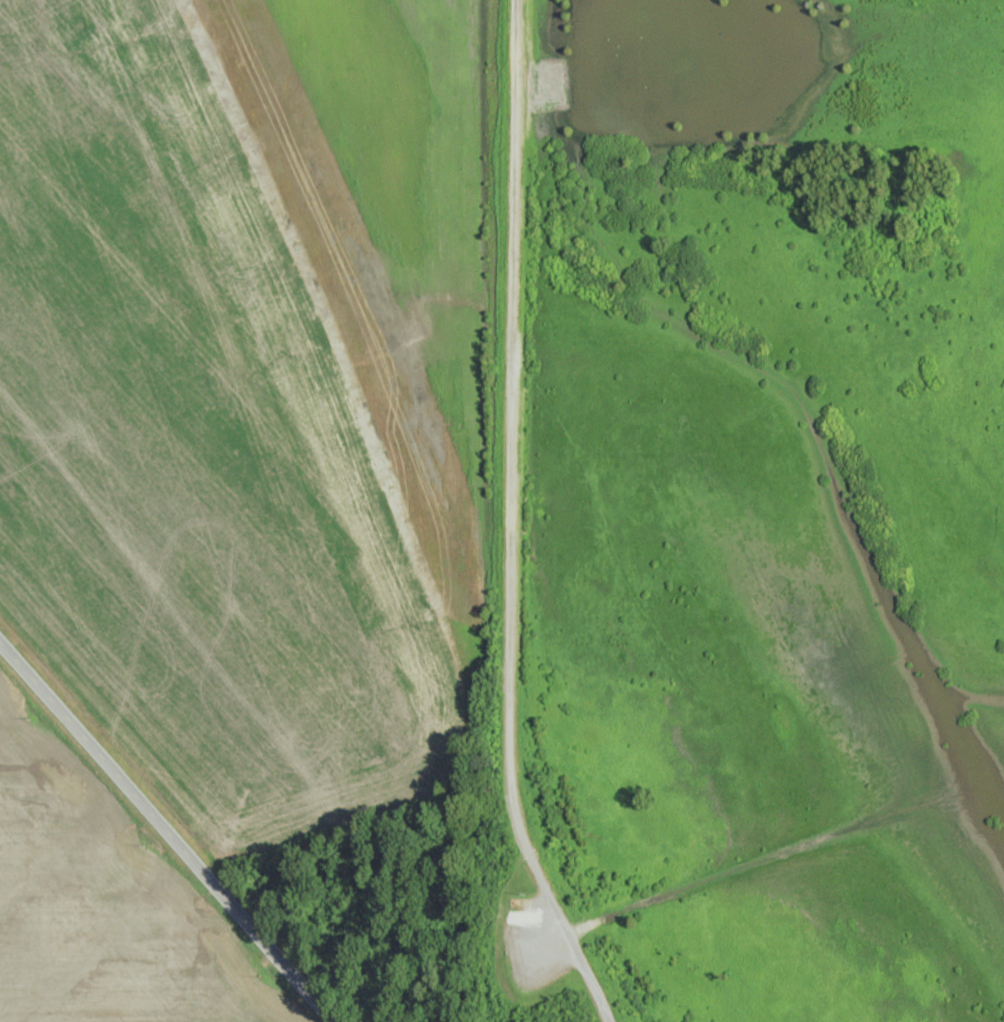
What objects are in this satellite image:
road: (512, 521)
road: (165, 830)

